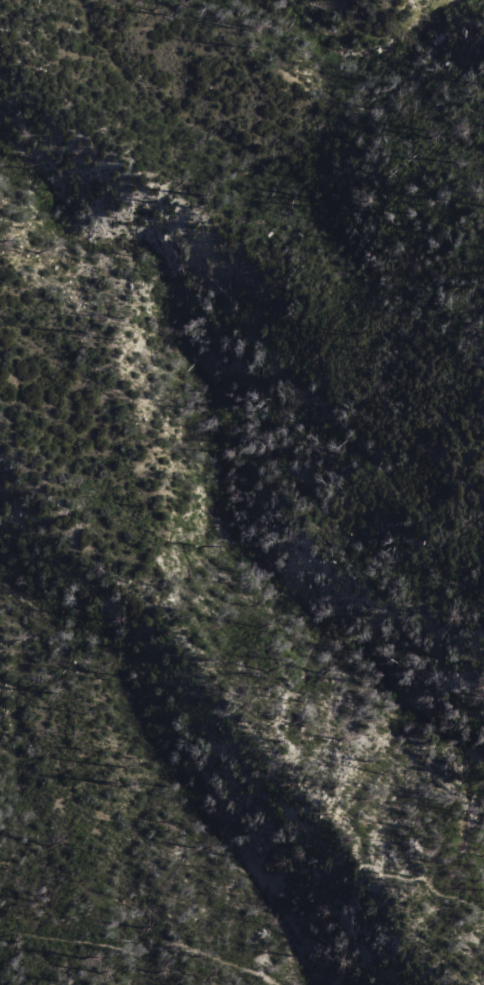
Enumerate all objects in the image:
road: (363, 861)
road: (140, 952)

